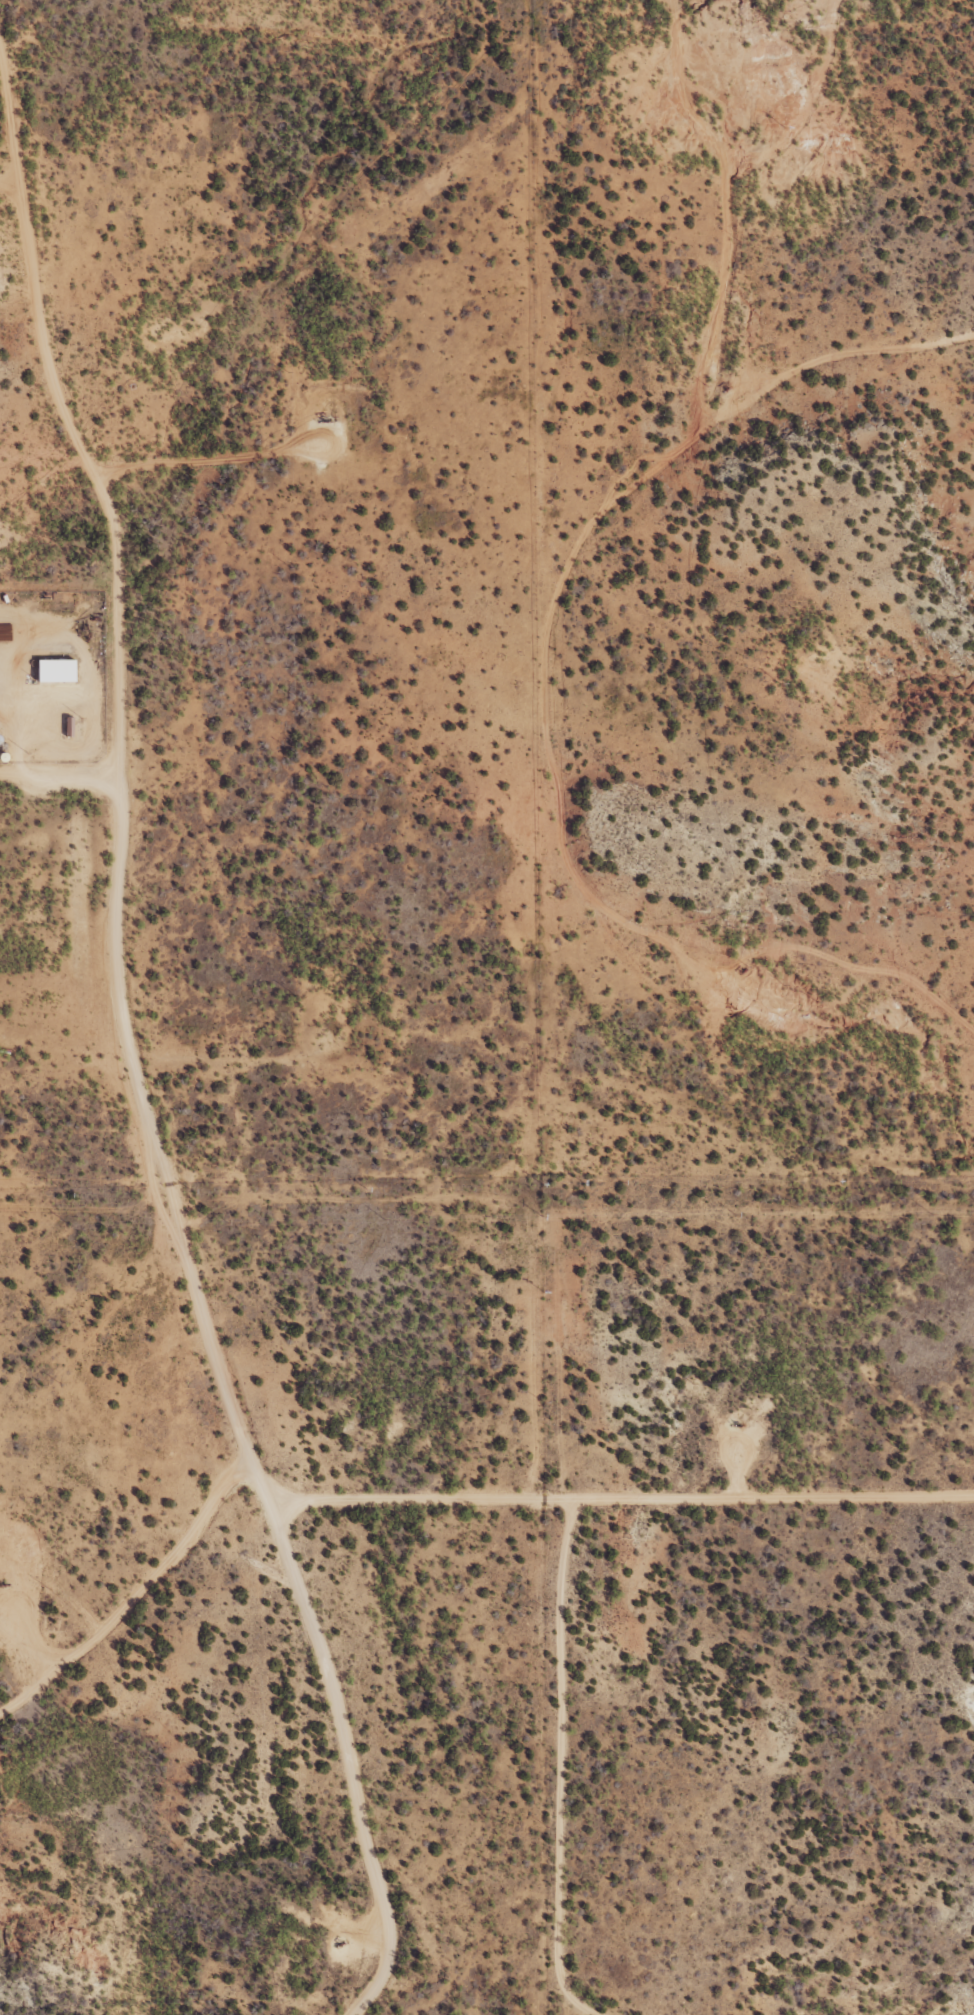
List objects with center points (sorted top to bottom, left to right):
road: (760, 208)
road: (808, 415)
building: (57, 668)
building: (74, 727)
road: (45, 815)
road: (126, 1174)
road: (123, 1624)
road: (676, 1781)

